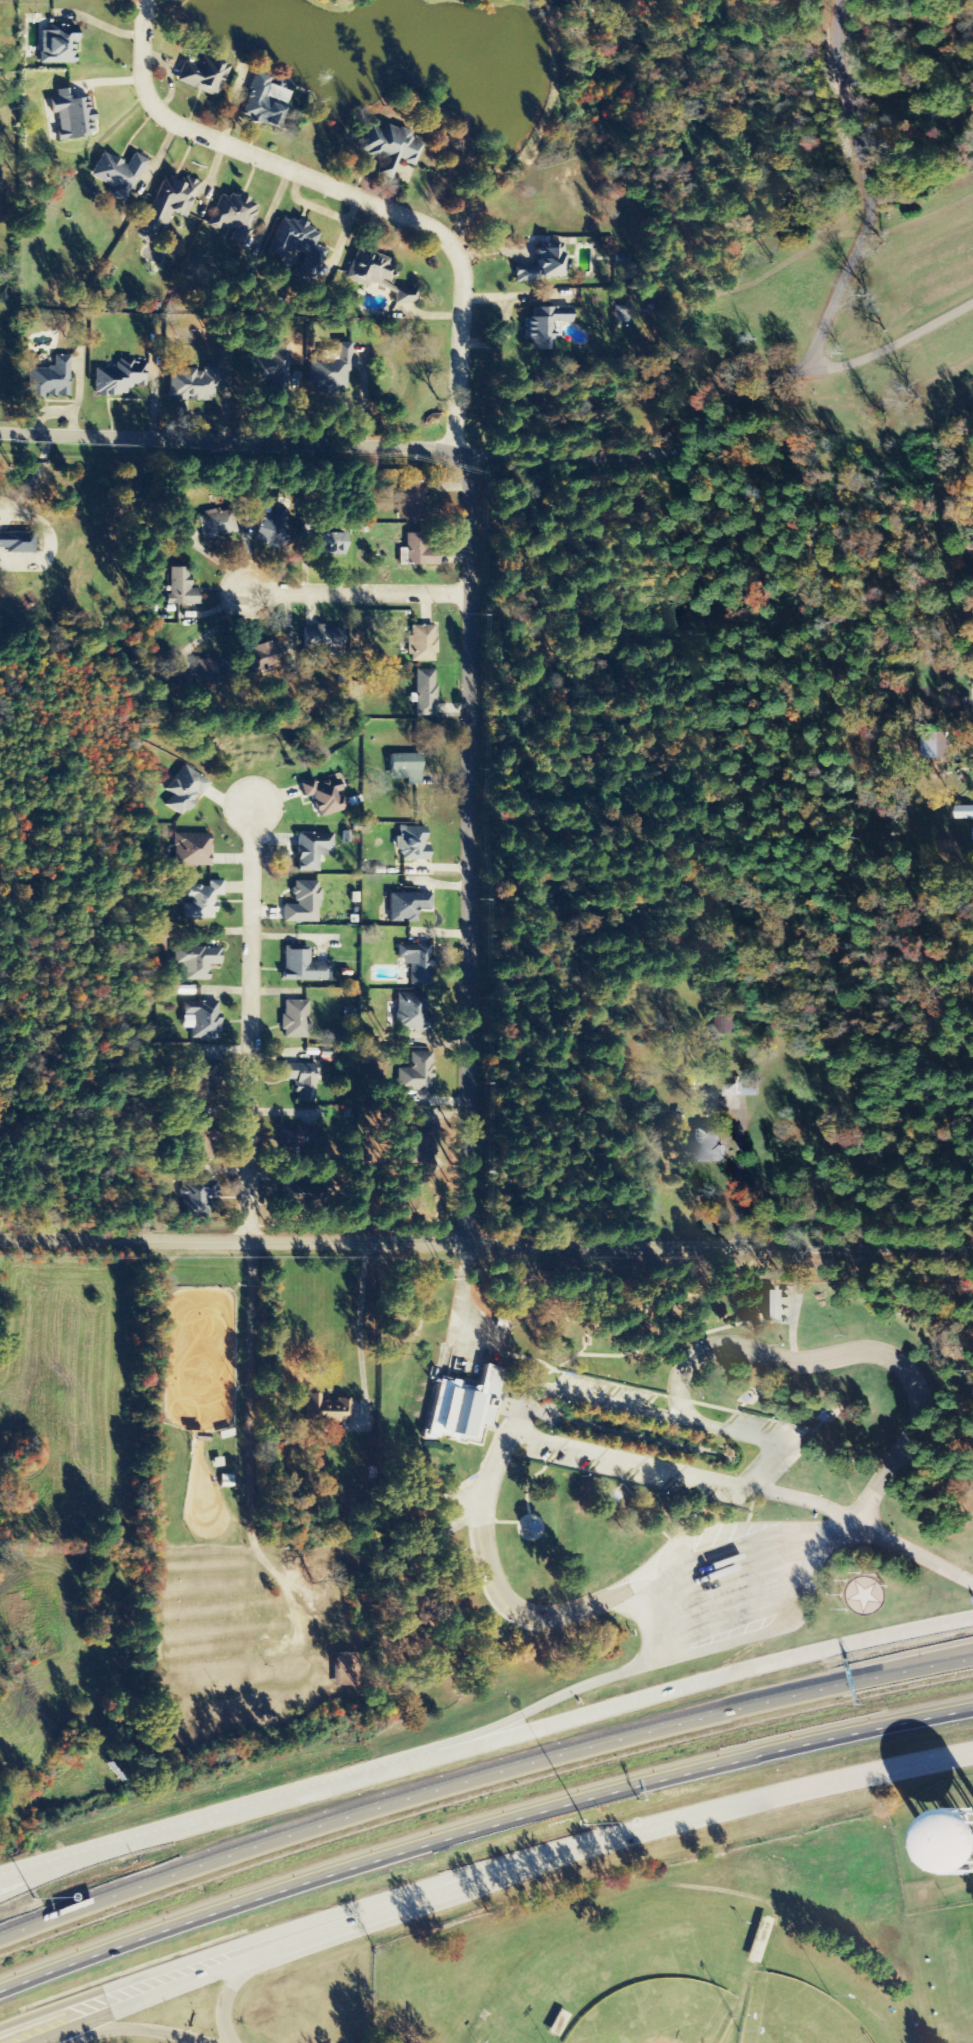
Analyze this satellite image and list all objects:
building: (57, 45)
building: (201, 74)
building: (262, 101)
building: (71, 115)
building: (387, 147)
building: (117, 174)
road: (863, 188)
road: (343, 194)
building: (169, 204)
building: (234, 217)
building: (298, 245)
building: (541, 265)
building: (367, 268)
building: (404, 295)
building: (544, 326)
building: (331, 370)
building: (271, 372)
building: (119, 378)
building: (49, 379)
building: (194, 384)
road: (720, 404)
road: (231, 441)
building: (412, 501)
building: (215, 523)
building: (270, 529)
building: (17, 543)
building: (329, 544)
building: (419, 550)
building: (180, 588)
road: (352, 594)
building: (322, 641)
building: (421, 643)
building: (263, 657)
building: (185, 678)
building: (424, 693)
building: (940, 746)
building: (405, 767)
building: (184, 790)
building: (324, 796)
building: (964, 812)
building: (411, 843)
road: (463, 847)
building: (192, 850)
building: (311, 850)
building: (203, 900)
building: (303, 903)
building: (406, 906)
building: (199, 962)
building: (417, 962)
building: (303, 966)
building: (409, 1011)
building: (203, 1020)
building: (295, 1020)
road: (245, 1024)
building: (416, 1073)
building: (204, 1081)
building: (301, 1081)
building: (735, 1091)
building: (294, 1139)
building: (206, 1141)
building: (416, 1146)
building: (707, 1148)
building: (292, 1195)
building: (198, 1198)
road: (230, 1242)
road: (717, 1244)
building: (769, 1305)
road: (852, 1354)
building: (745, 1397)
building: (462, 1407)
building: (325, 1409)
road: (663, 1414)
building: (823, 1415)
parking lot: (781, 1438)
road: (687, 1471)
building: (225, 1481)
building: (609, 1496)
building: (526, 1527)
road: (916, 1552)
flagpole: (857, 1571)
flagpole: (873, 1573)
flagpole: (844, 1579)
parking lot: (738, 1581)
road: (846, 1582)
flagpole: (884, 1584)
flagpole: (839, 1593)
flagpole: (844, 1608)
road: (529, 1610)
road: (788, 1622)
building: (345, 1669)
road: (544, 1702)
road: (485, 1740)
road: (480, 1775)
road: (480, 1822)
street lamp: (584, 1826)
road: (630, 1831)
water tower: (972, 1843)
building: (949, 1844)
road: (79, 1862)
park: (657, 1962)
road: (146, 1979)
road: (161, 1987)
road: (229, 1993)
park: (658, 2013)
park: (795, 2014)
road: (135, 2030)

